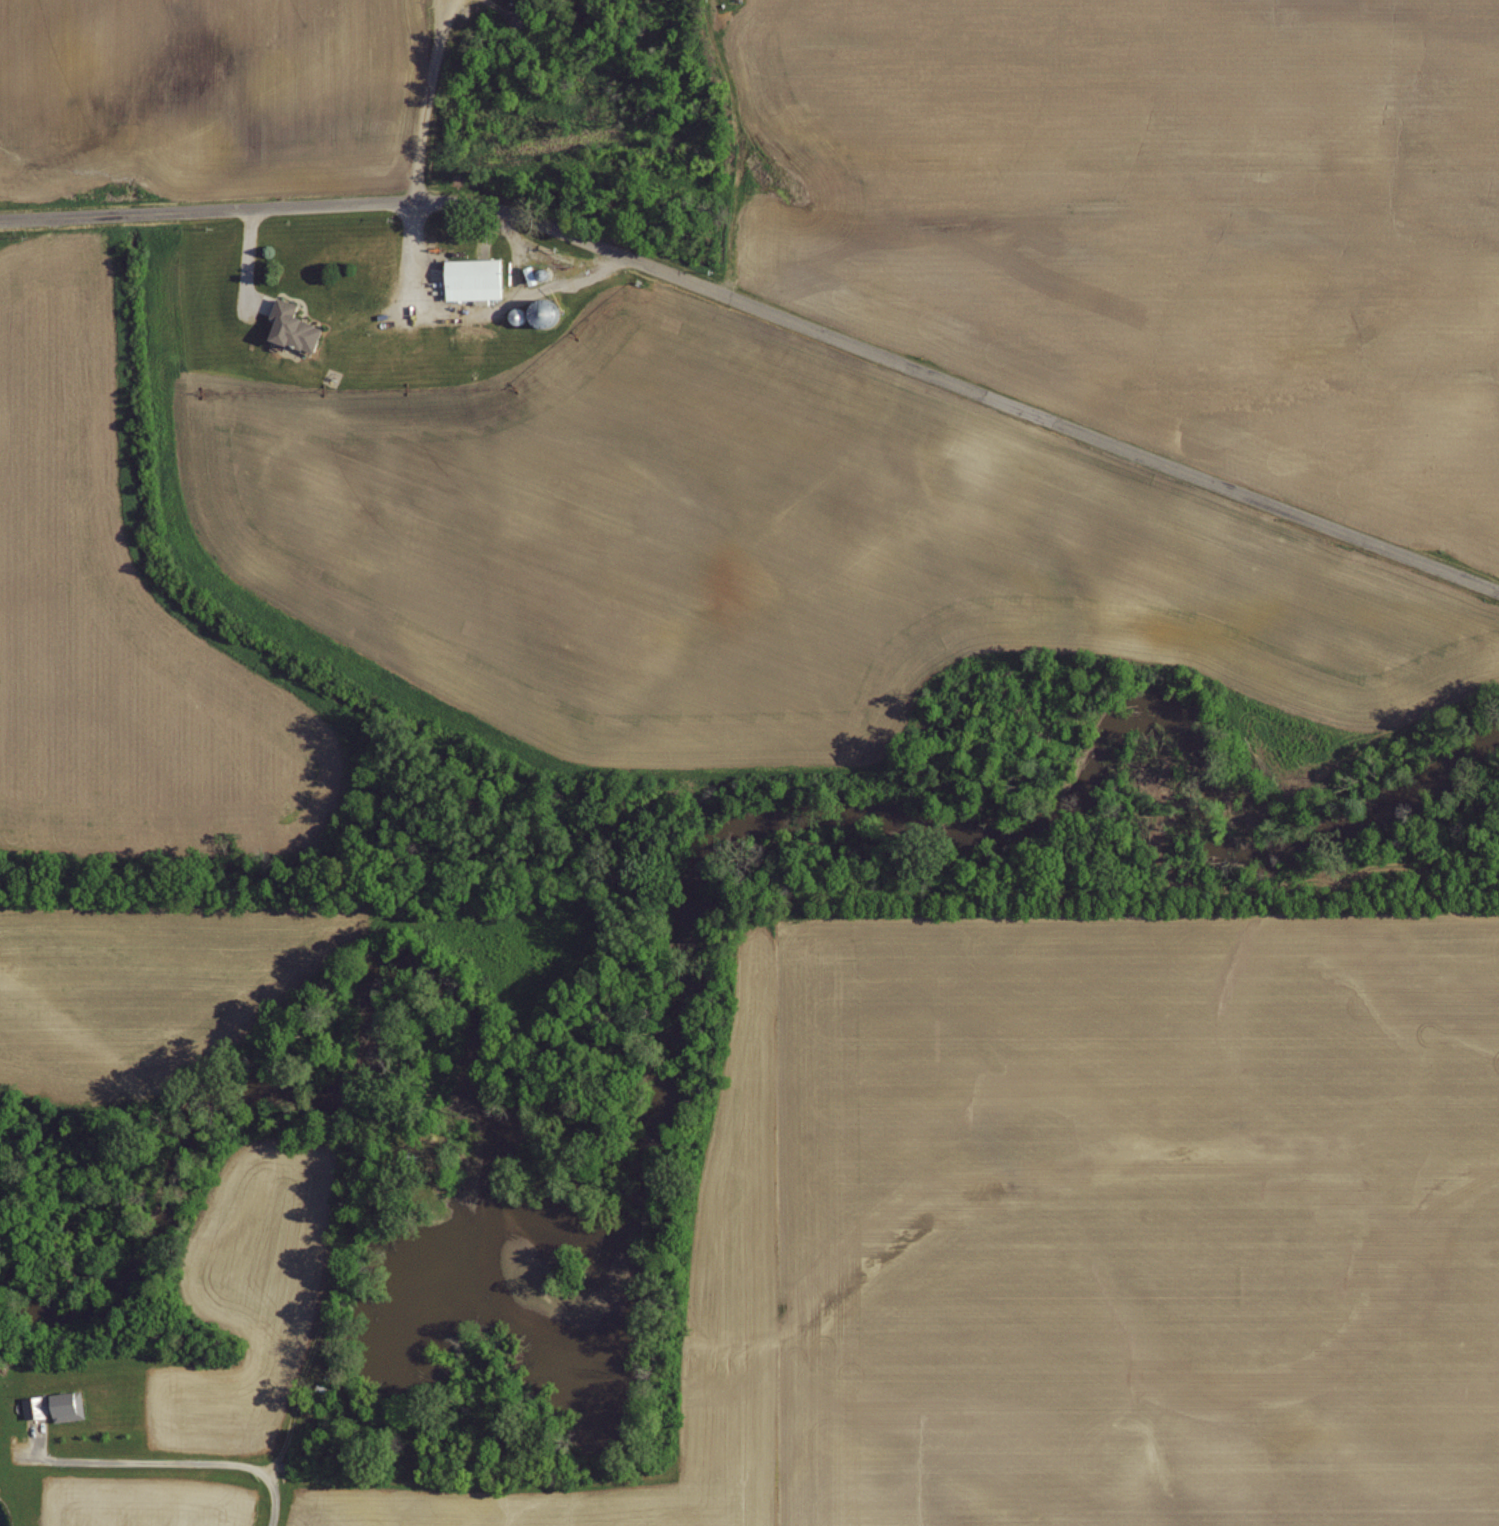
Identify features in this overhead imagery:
crop: (195, 86)
crop: (1155, 212)
road: (764, 312)
crop: (747, 553)
crop: (129, 612)
crop: (130, 987)
crop: (1136, 1222)

